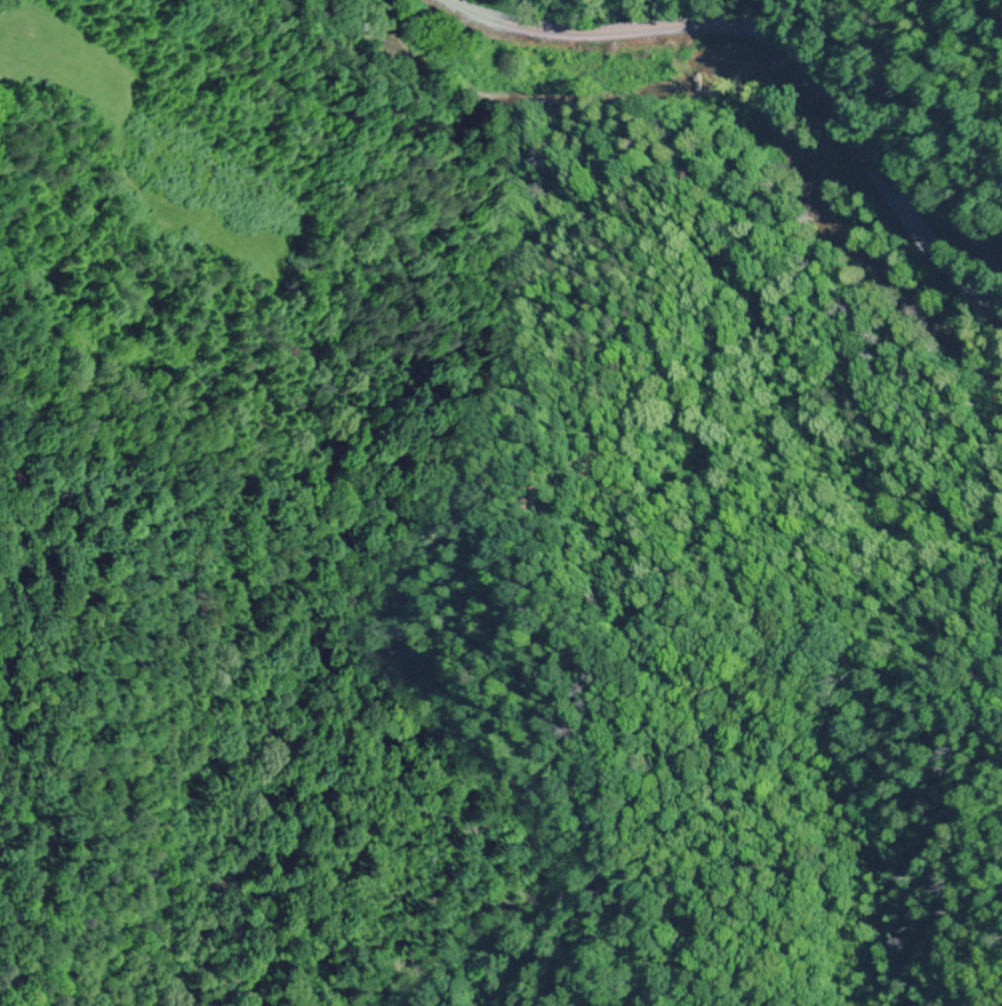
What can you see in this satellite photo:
road: (786, 47)

